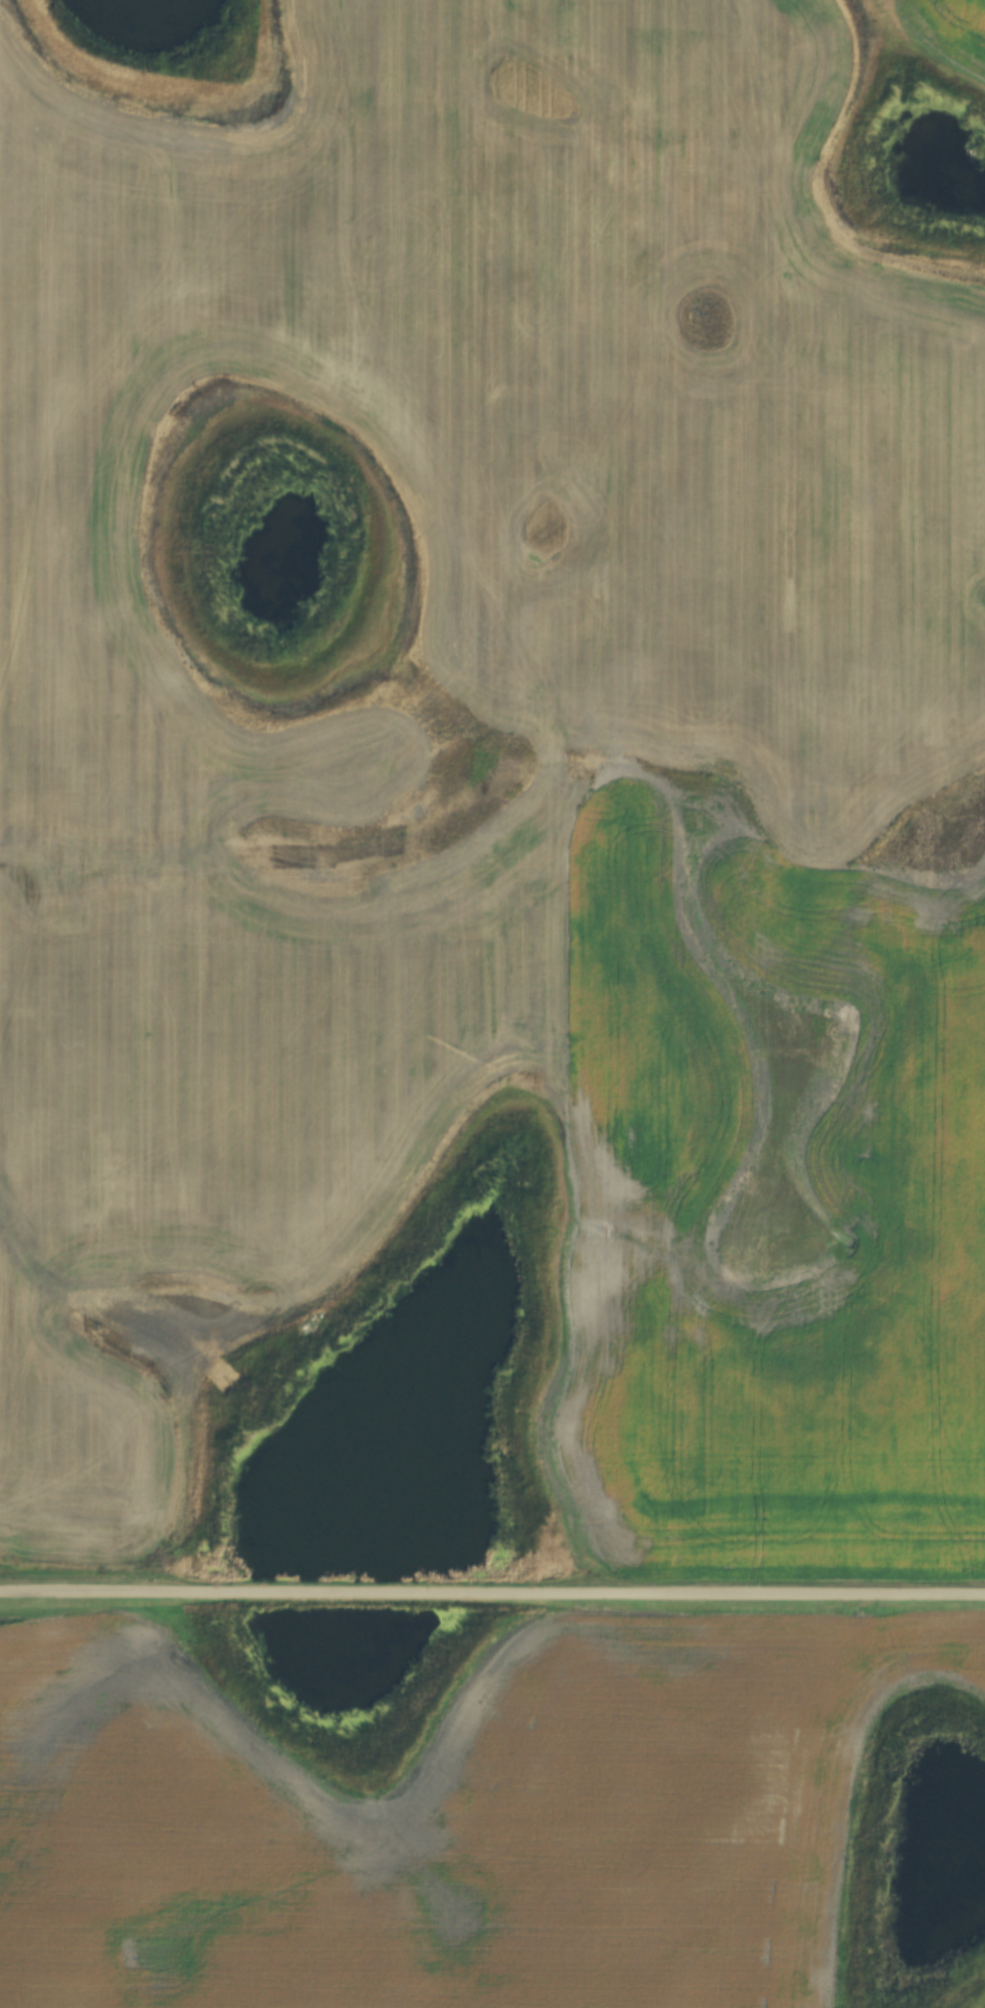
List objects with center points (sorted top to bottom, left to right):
road: (492, 1595)

